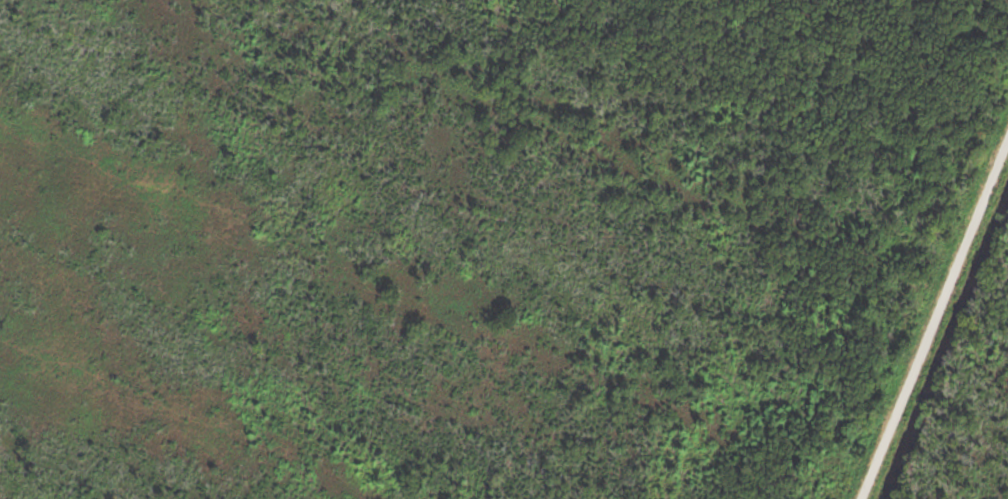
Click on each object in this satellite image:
road: (934, 320)

